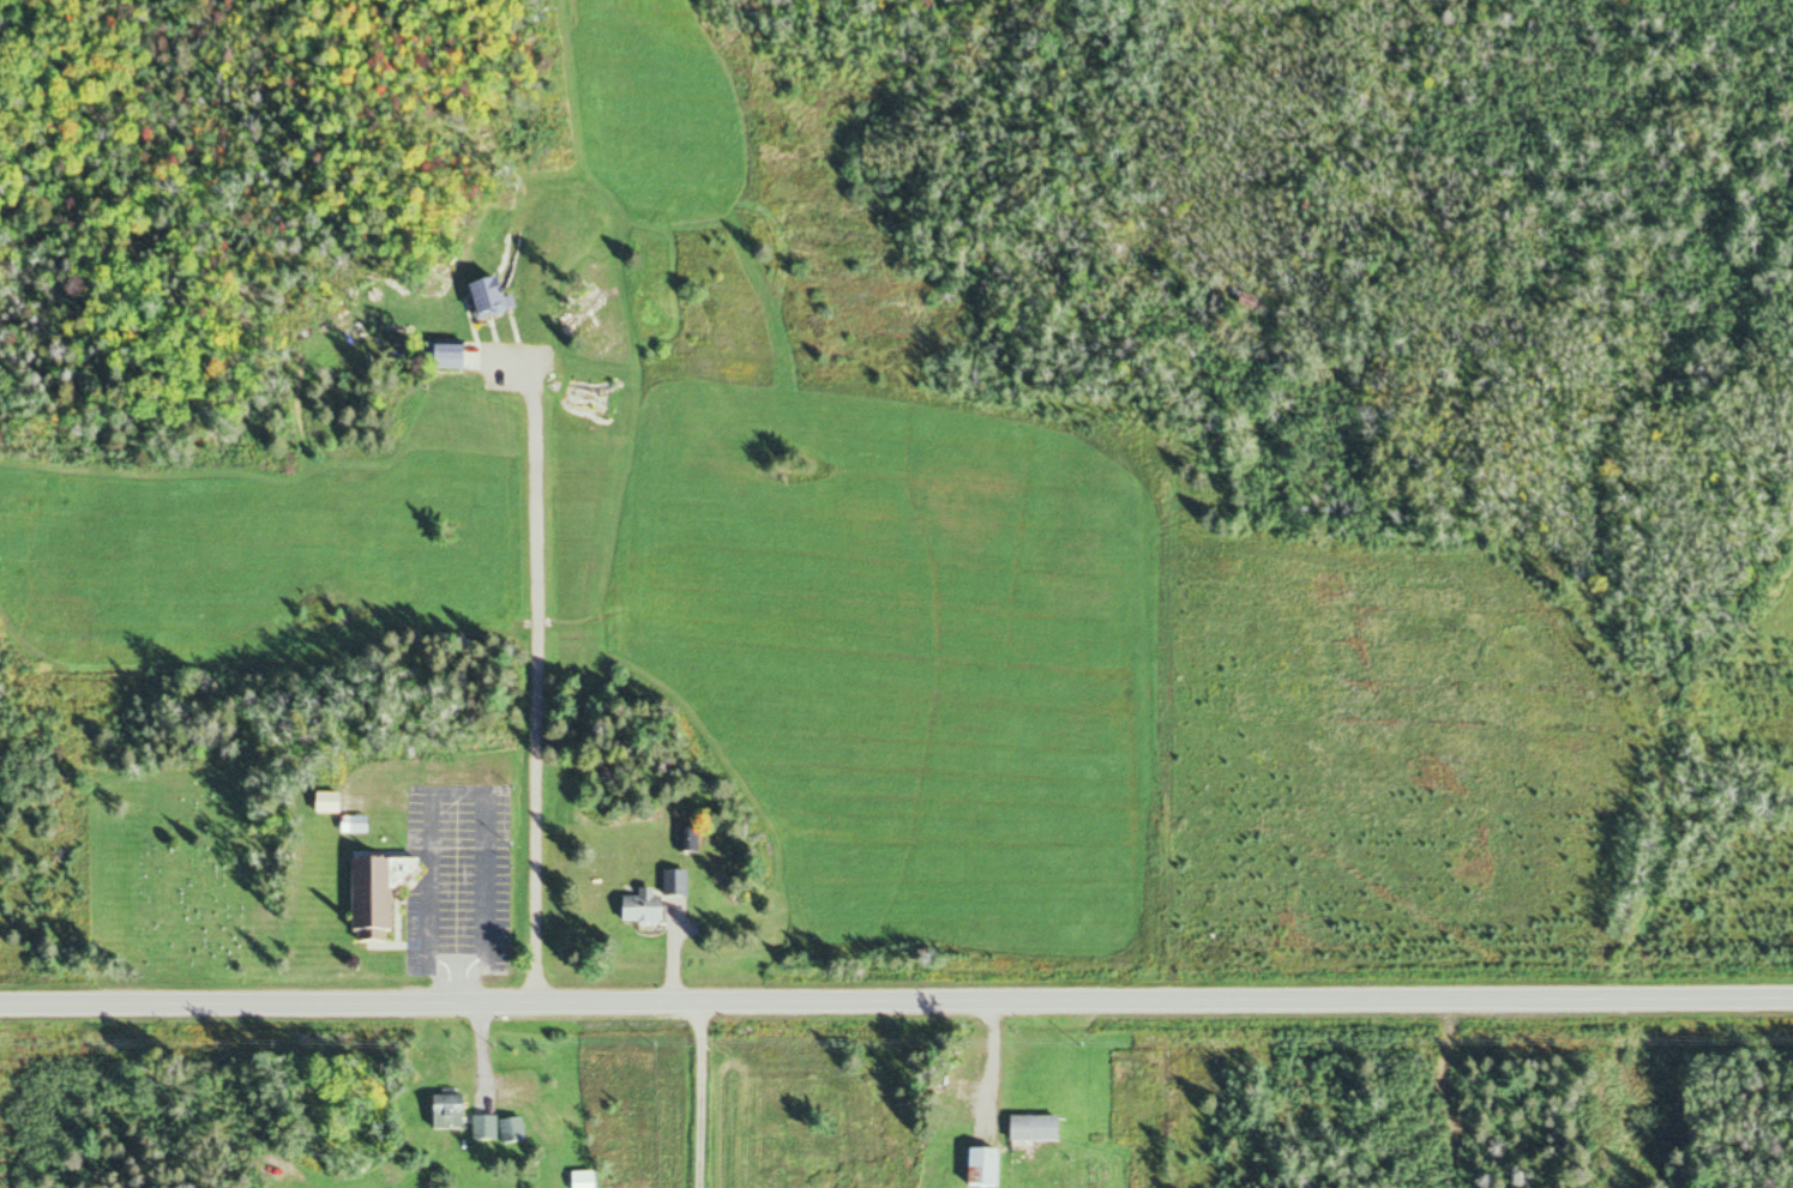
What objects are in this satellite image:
building: (335, 802)
building: (360, 824)
building: (694, 839)
park: (188, 867)
building: (685, 881)
building: (385, 894)
building: (650, 909)
road: (896, 997)
building: (453, 1111)
building: (504, 1128)
building: (1025, 1129)
building: (973, 1169)
building: (590, 1178)

